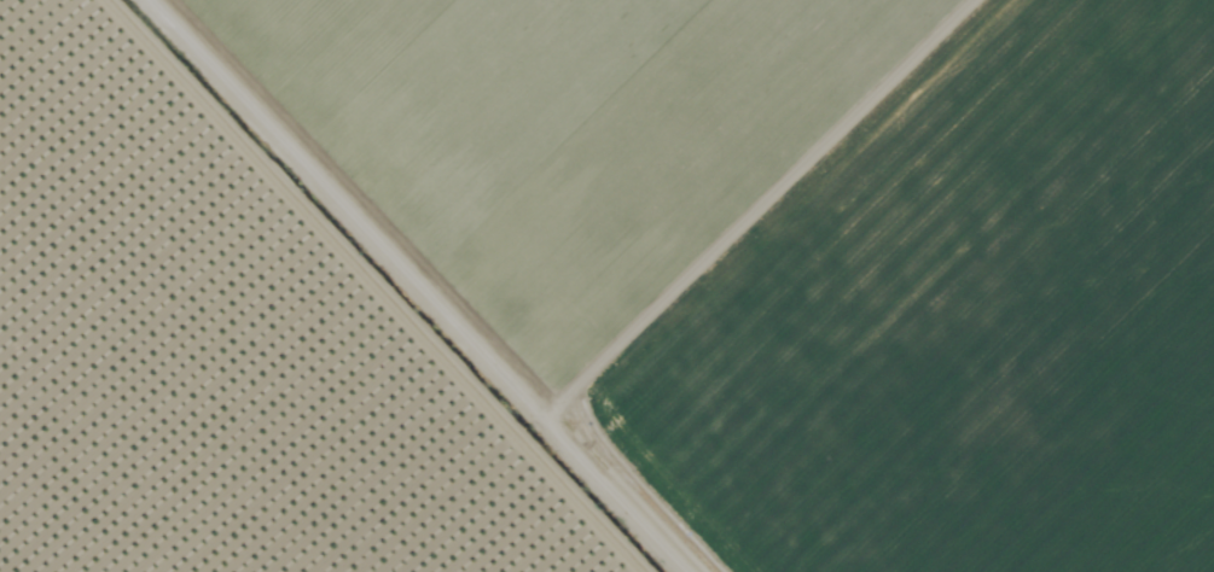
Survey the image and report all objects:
crop: (792, 253)
road: (459, 286)
crop: (231, 349)

